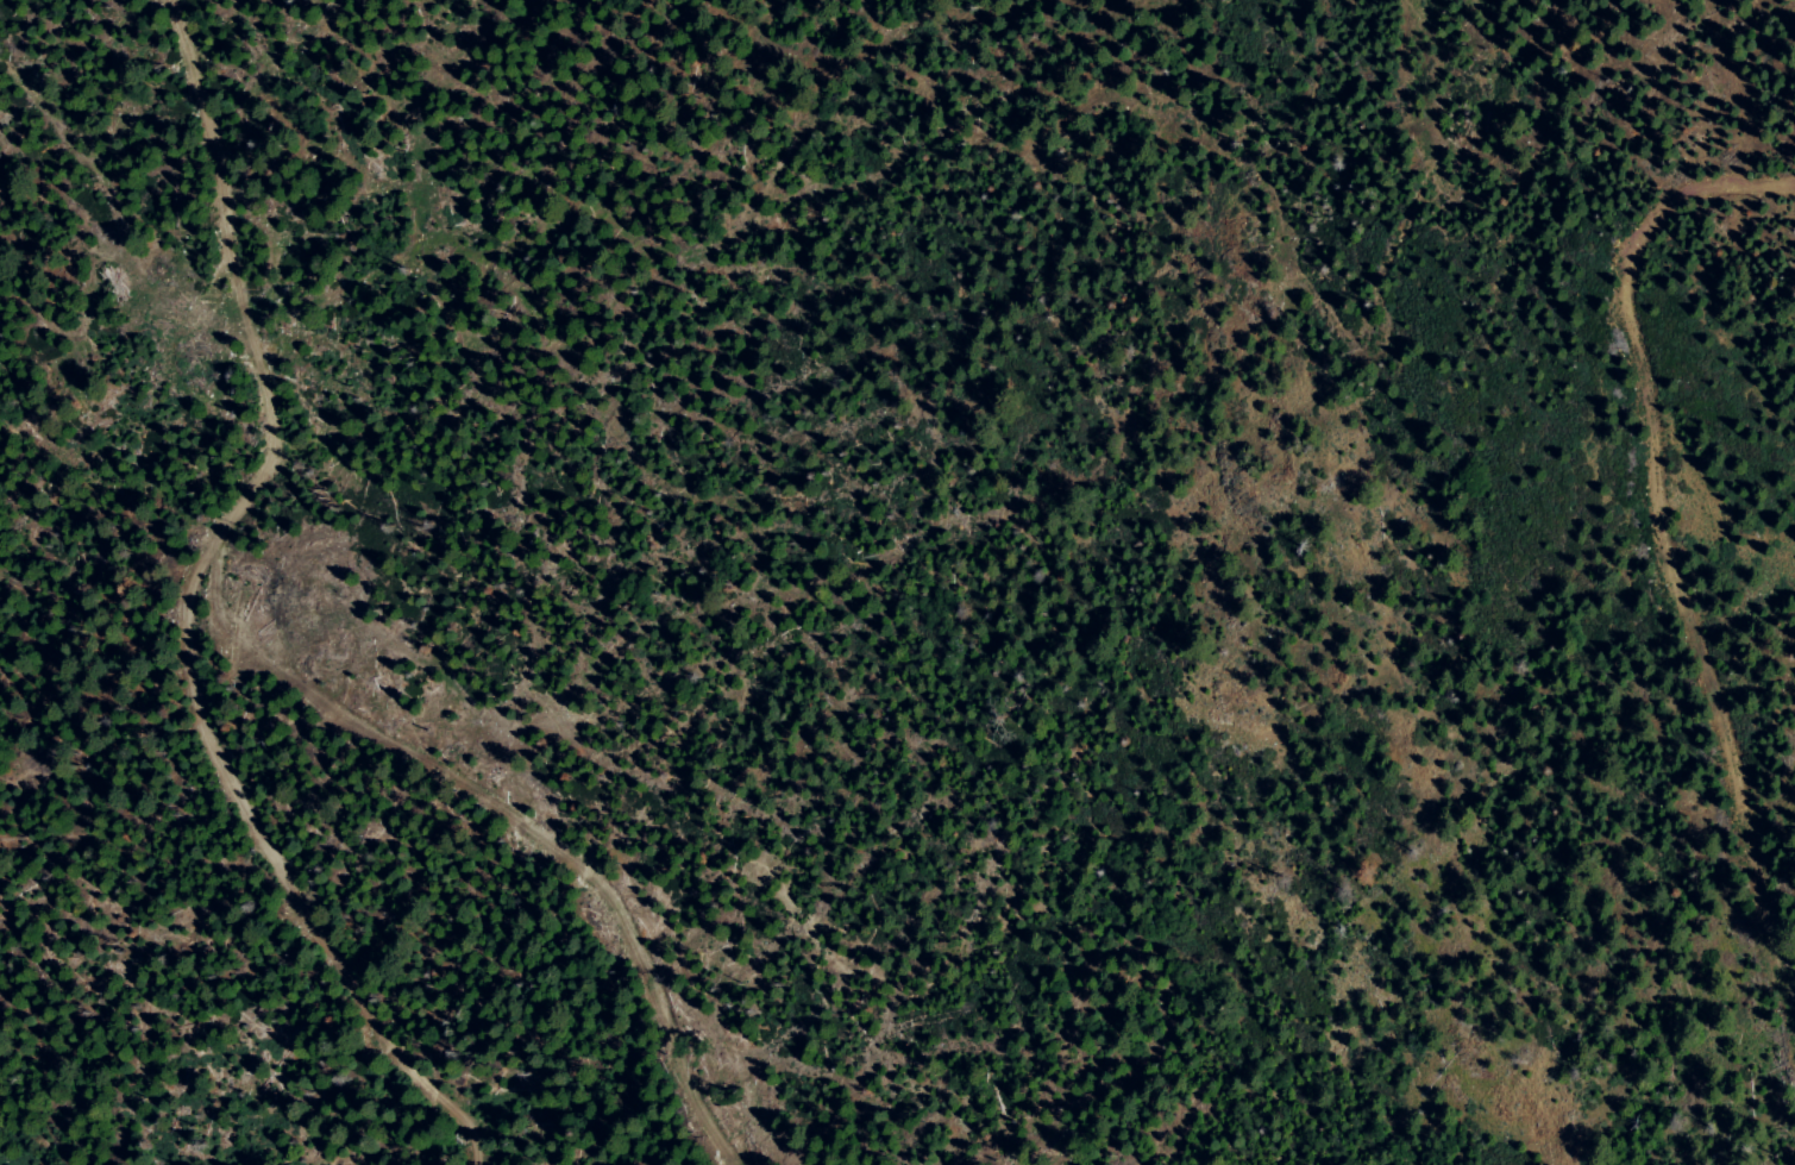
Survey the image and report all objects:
road: (192, 613)

